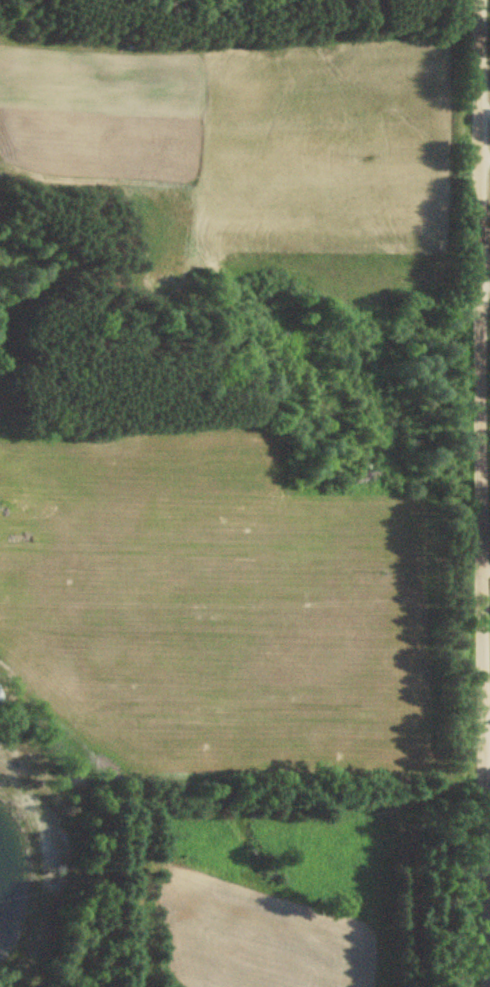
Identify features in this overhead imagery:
road: (484, 493)

